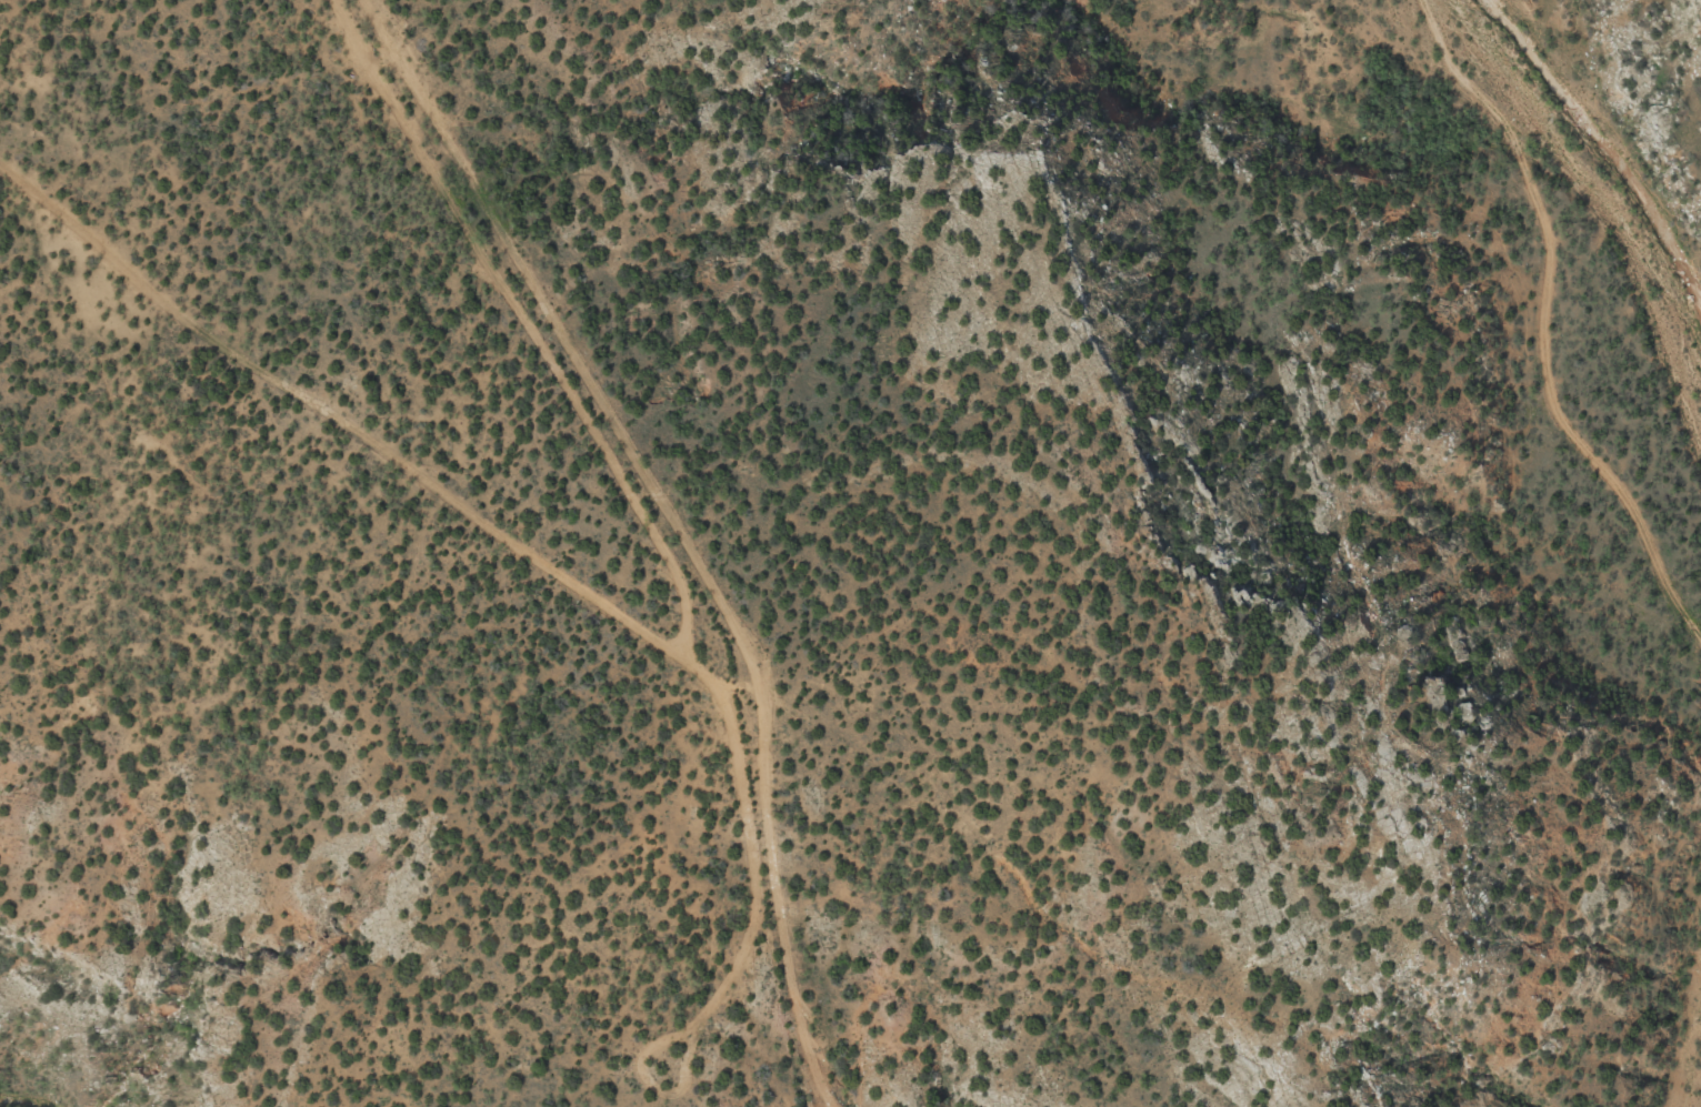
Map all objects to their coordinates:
road: (1547, 415)

